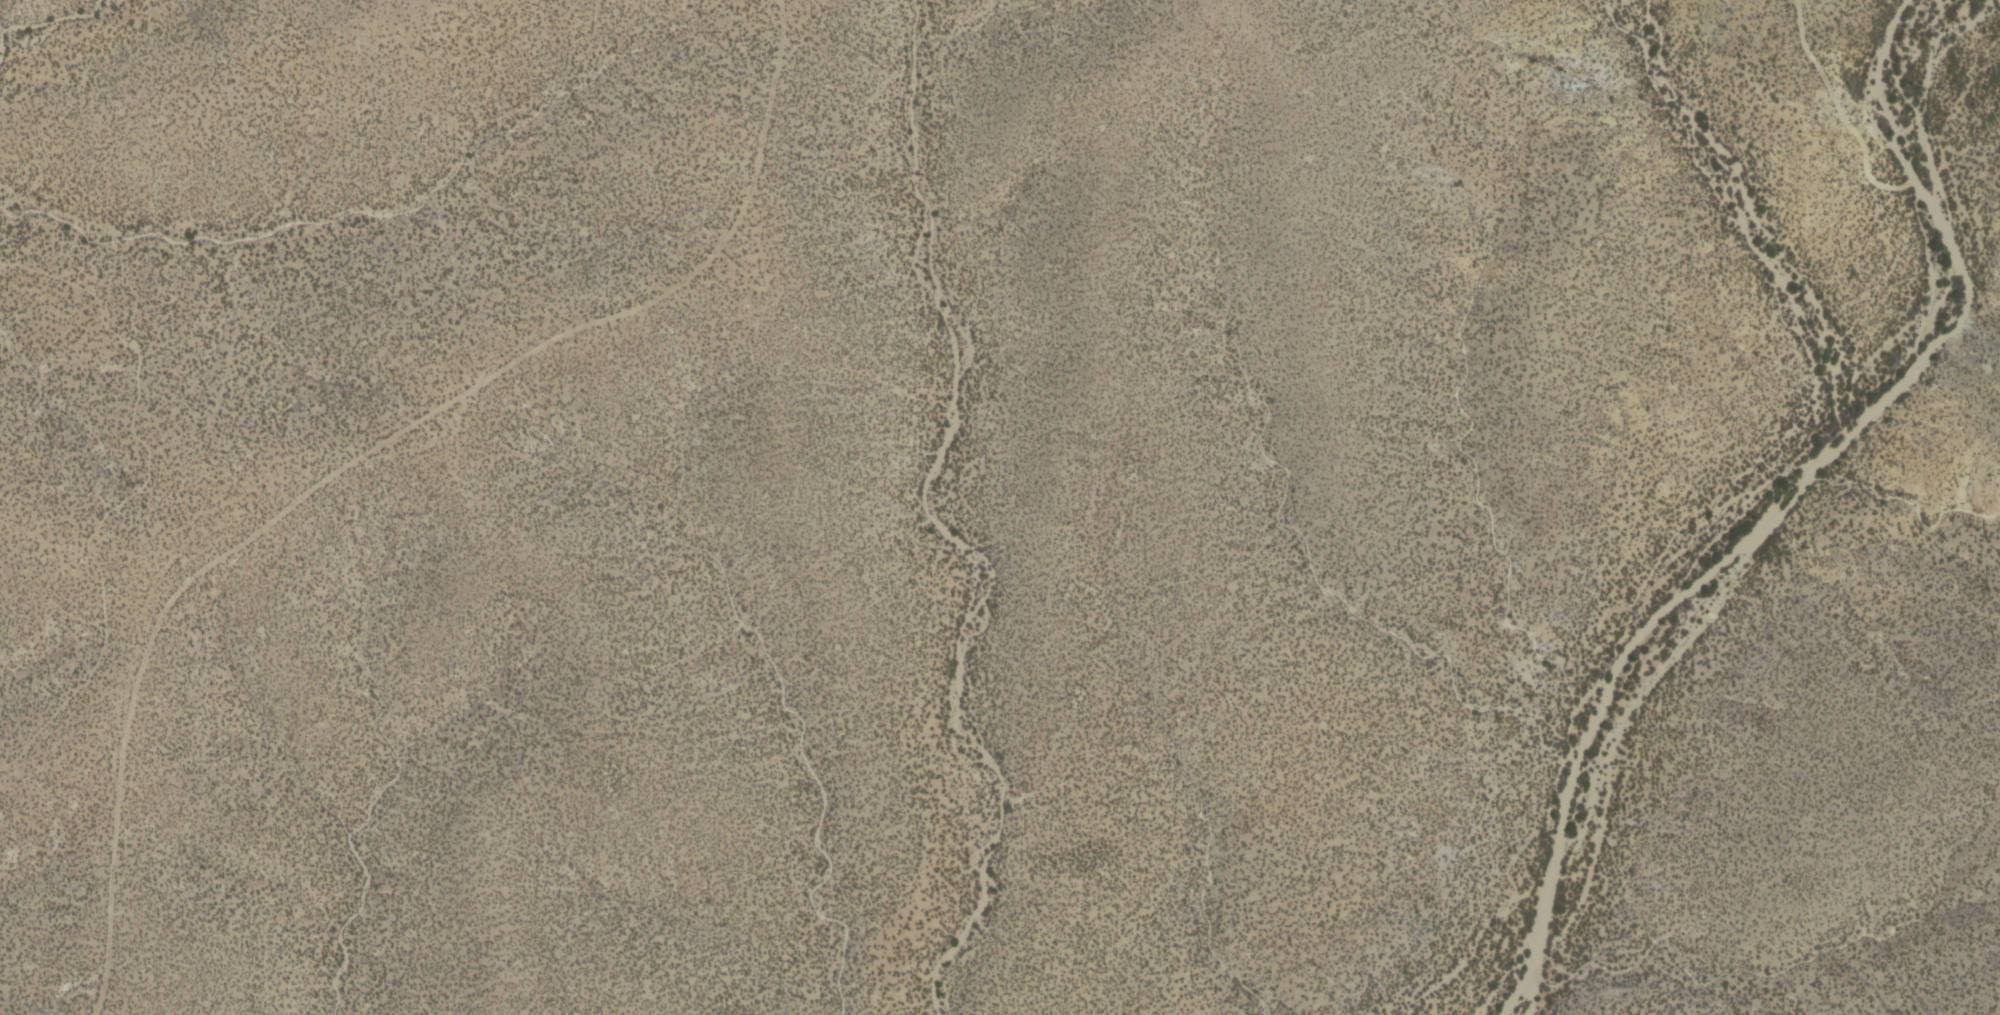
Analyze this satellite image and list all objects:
road: (134, 487)

